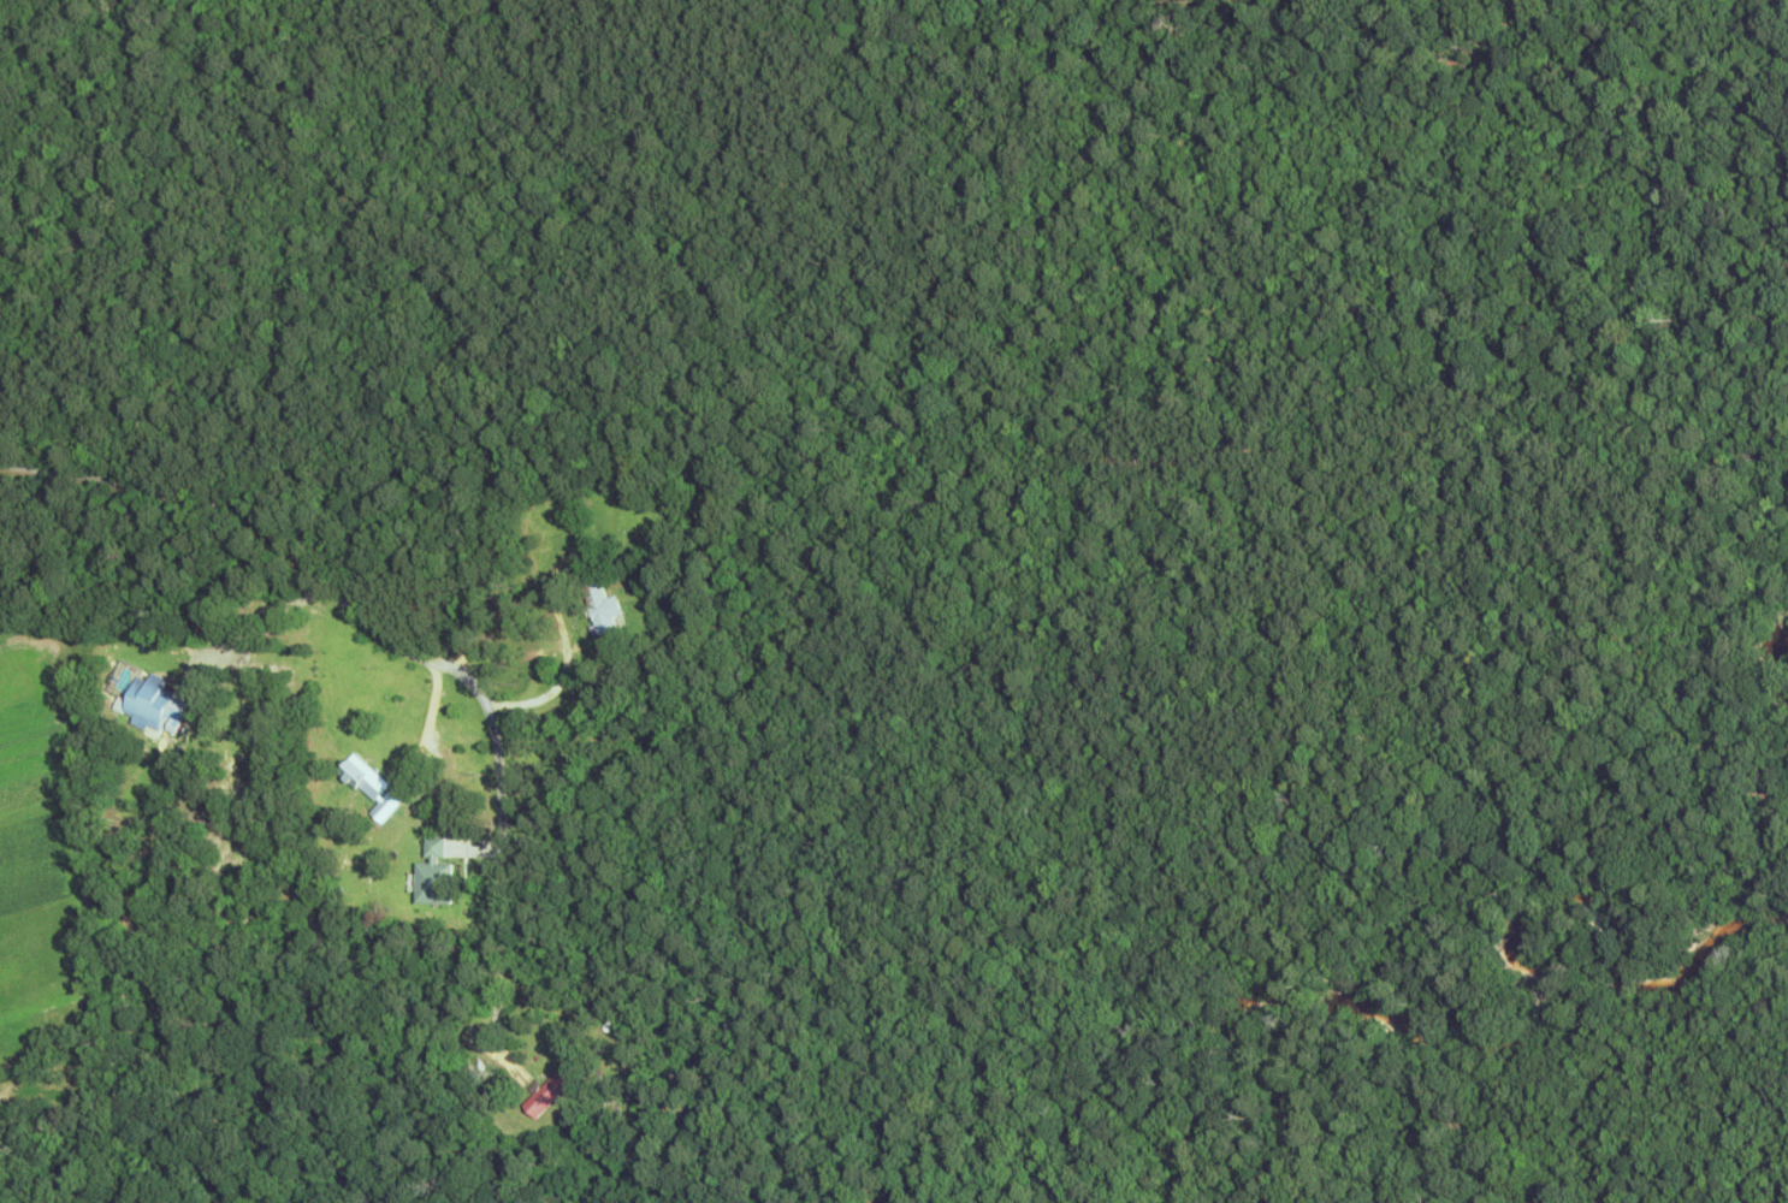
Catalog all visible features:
road: (69, 84)
road: (254, 509)
building: (602, 606)
river: (1775, 663)
building: (156, 705)
building: (365, 777)
building: (386, 807)
crop: (36, 837)
building: (434, 873)
river: (1502, 1037)
building: (546, 1092)
building: (599, 1106)
river: (117, 1157)

